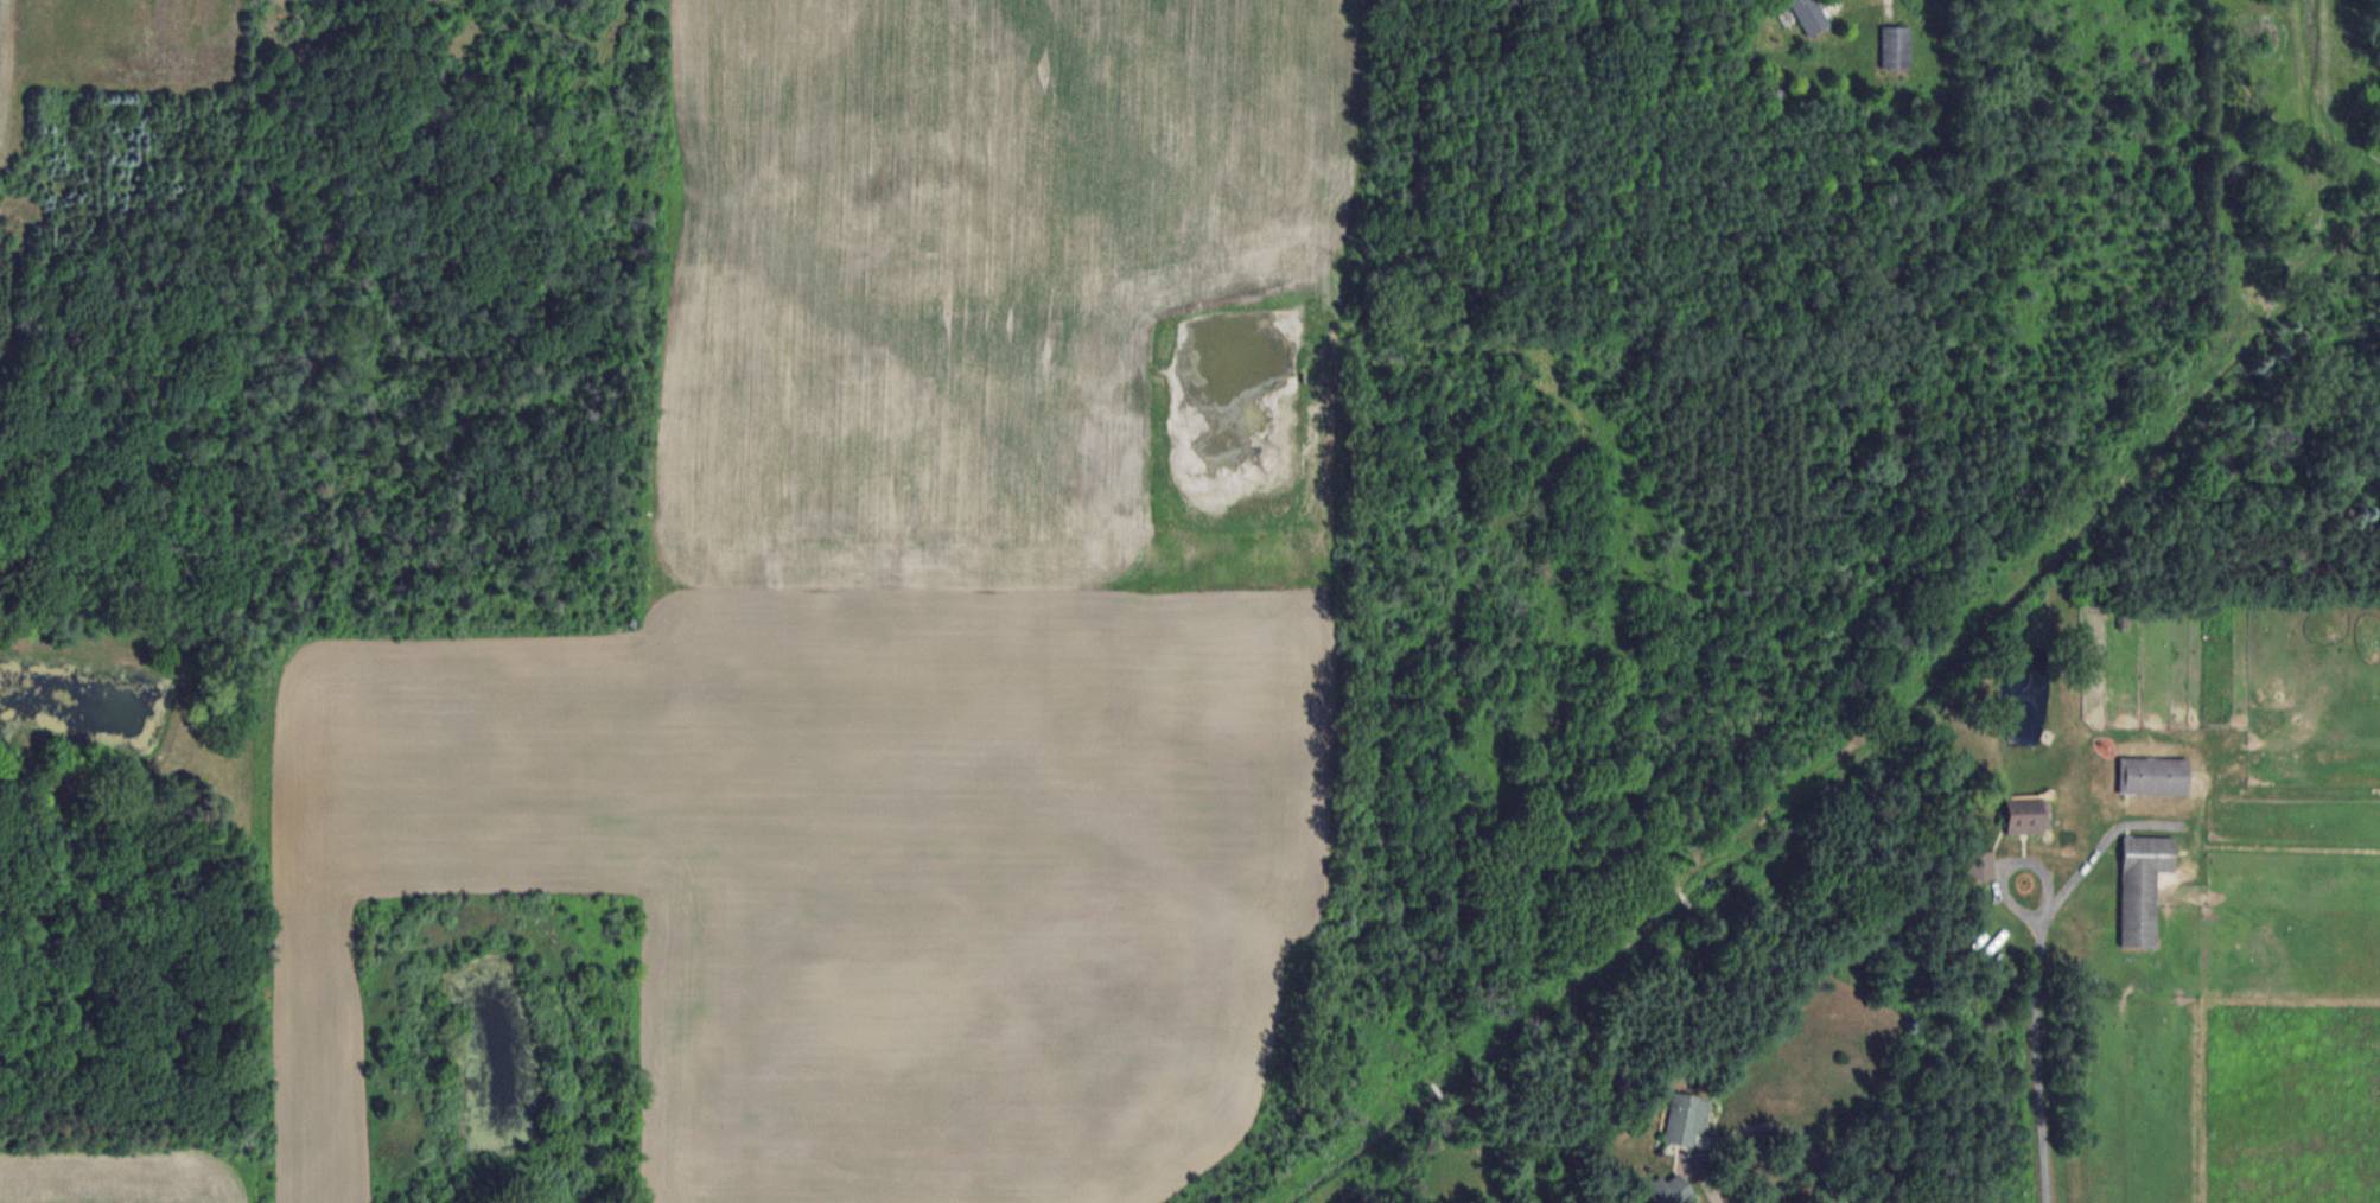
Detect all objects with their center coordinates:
building: (1809, 14)
building: (1896, 46)
building: (2153, 775)
building: (2028, 816)
road: (2009, 863)
building: (1981, 865)
building: (2143, 886)
building: (2109, 1030)
road: (2035, 1062)
building: (1685, 1120)
road: (1767, 1122)
building: (1672, 1190)

